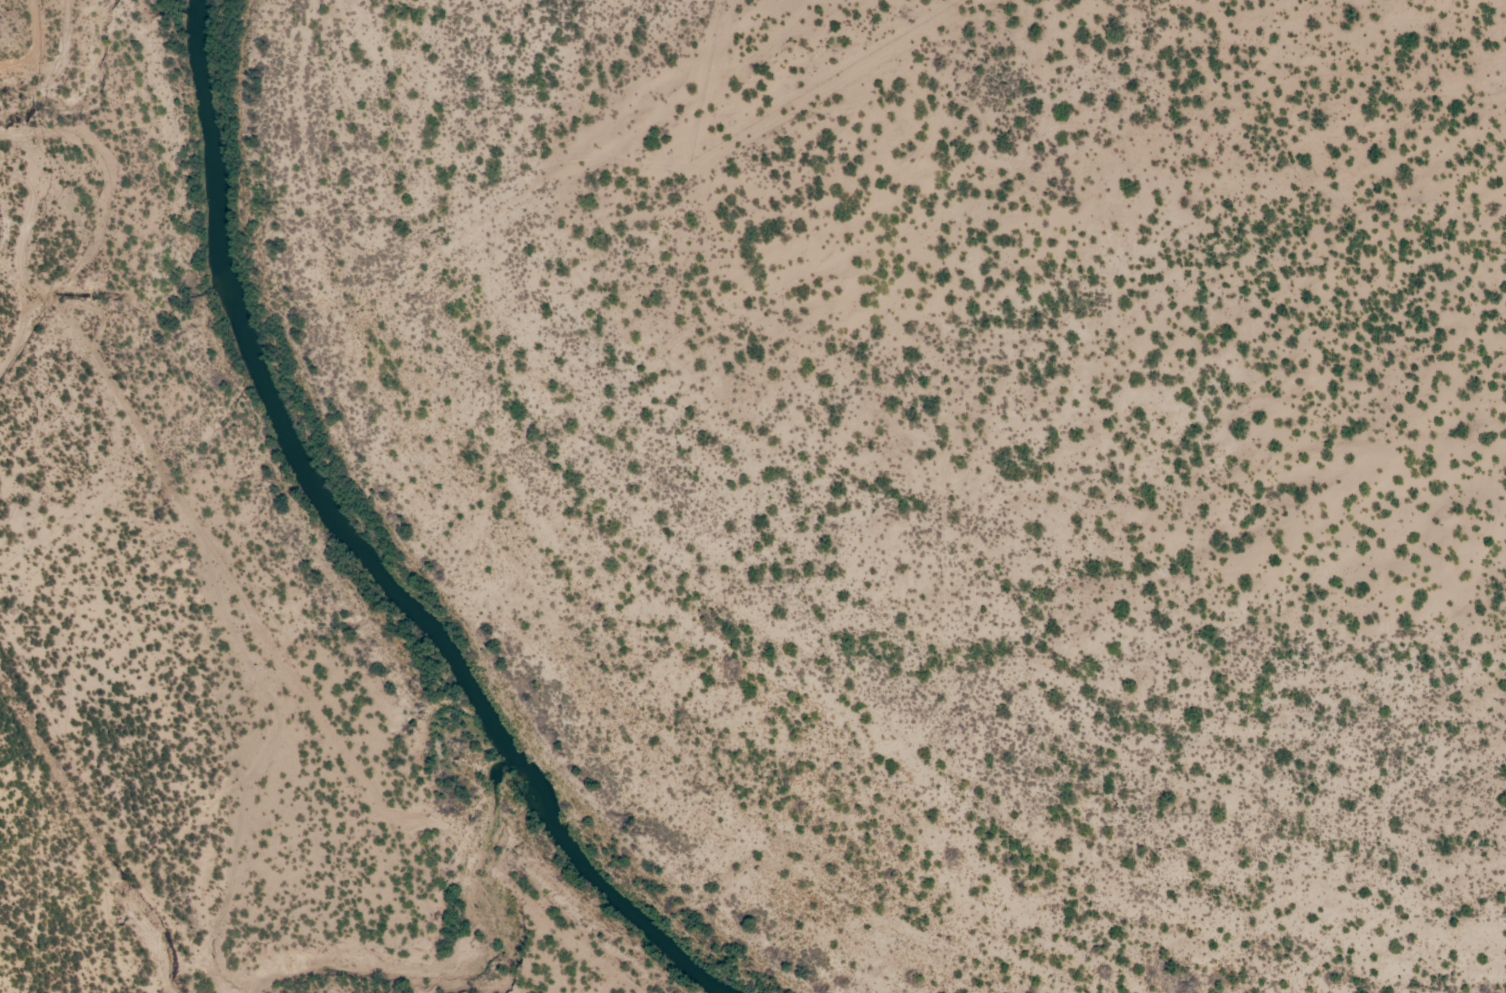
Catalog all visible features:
river: (371, 549)

